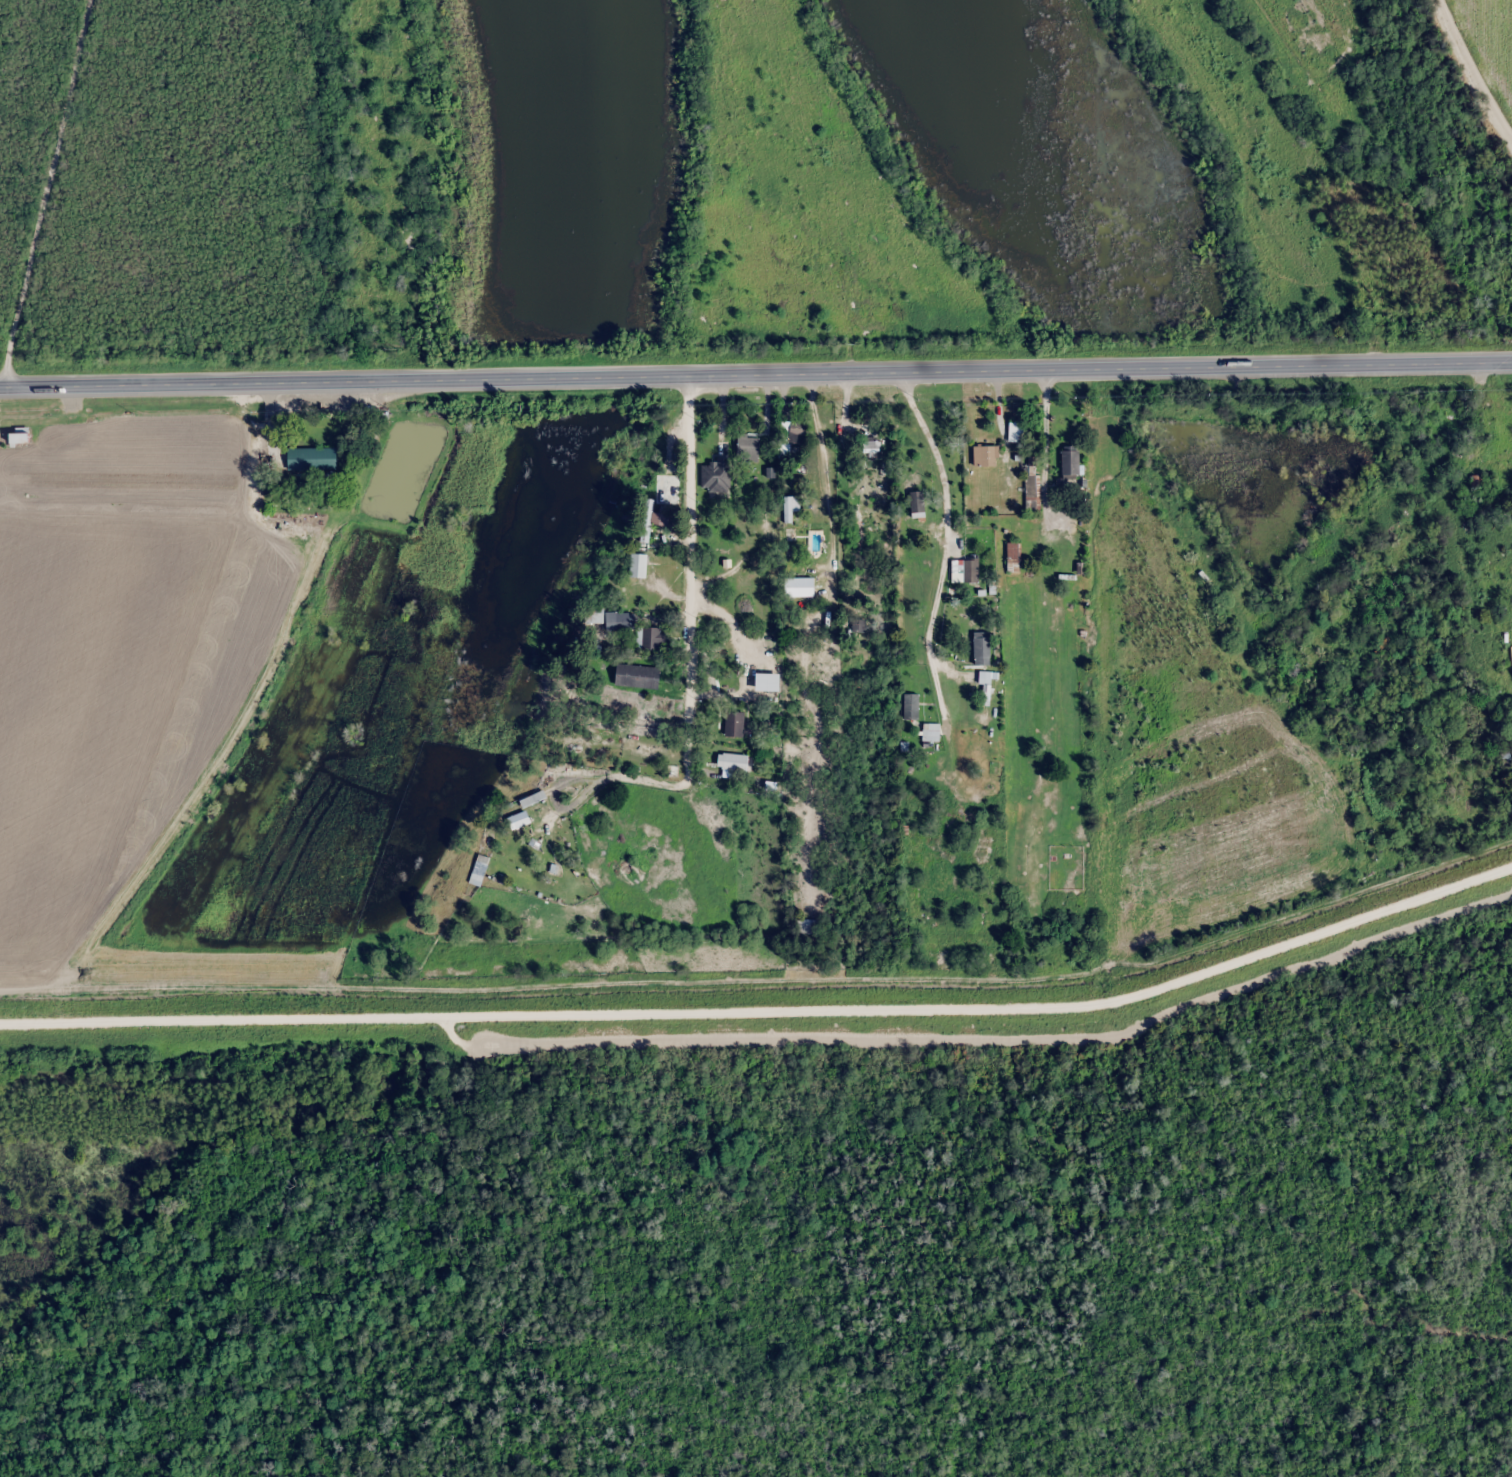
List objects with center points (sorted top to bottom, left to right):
road: (1490, 40)
road: (45, 194)
road: (756, 382)
building: (1016, 431)
building: (791, 437)
building: (20, 438)
building: (871, 445)
building: (748, 448)
building: (986, 456)
building: (312, 459)
building: (1071, 461)
building: (715, 476)
building: (1476, 481)
building: (1033, 485)
building: (917, 503)
building: (648, 520)
building: (1014, 557)
building: (639, 565)
building: (967, 569)
building: (652, 639)
building: (983, 648)
building: (638, 676)
building: (911, 707)
building: (735, 724)
building: (931, 732)
building: (734, 762)
building: (517, 821)
building: (478, 872)

